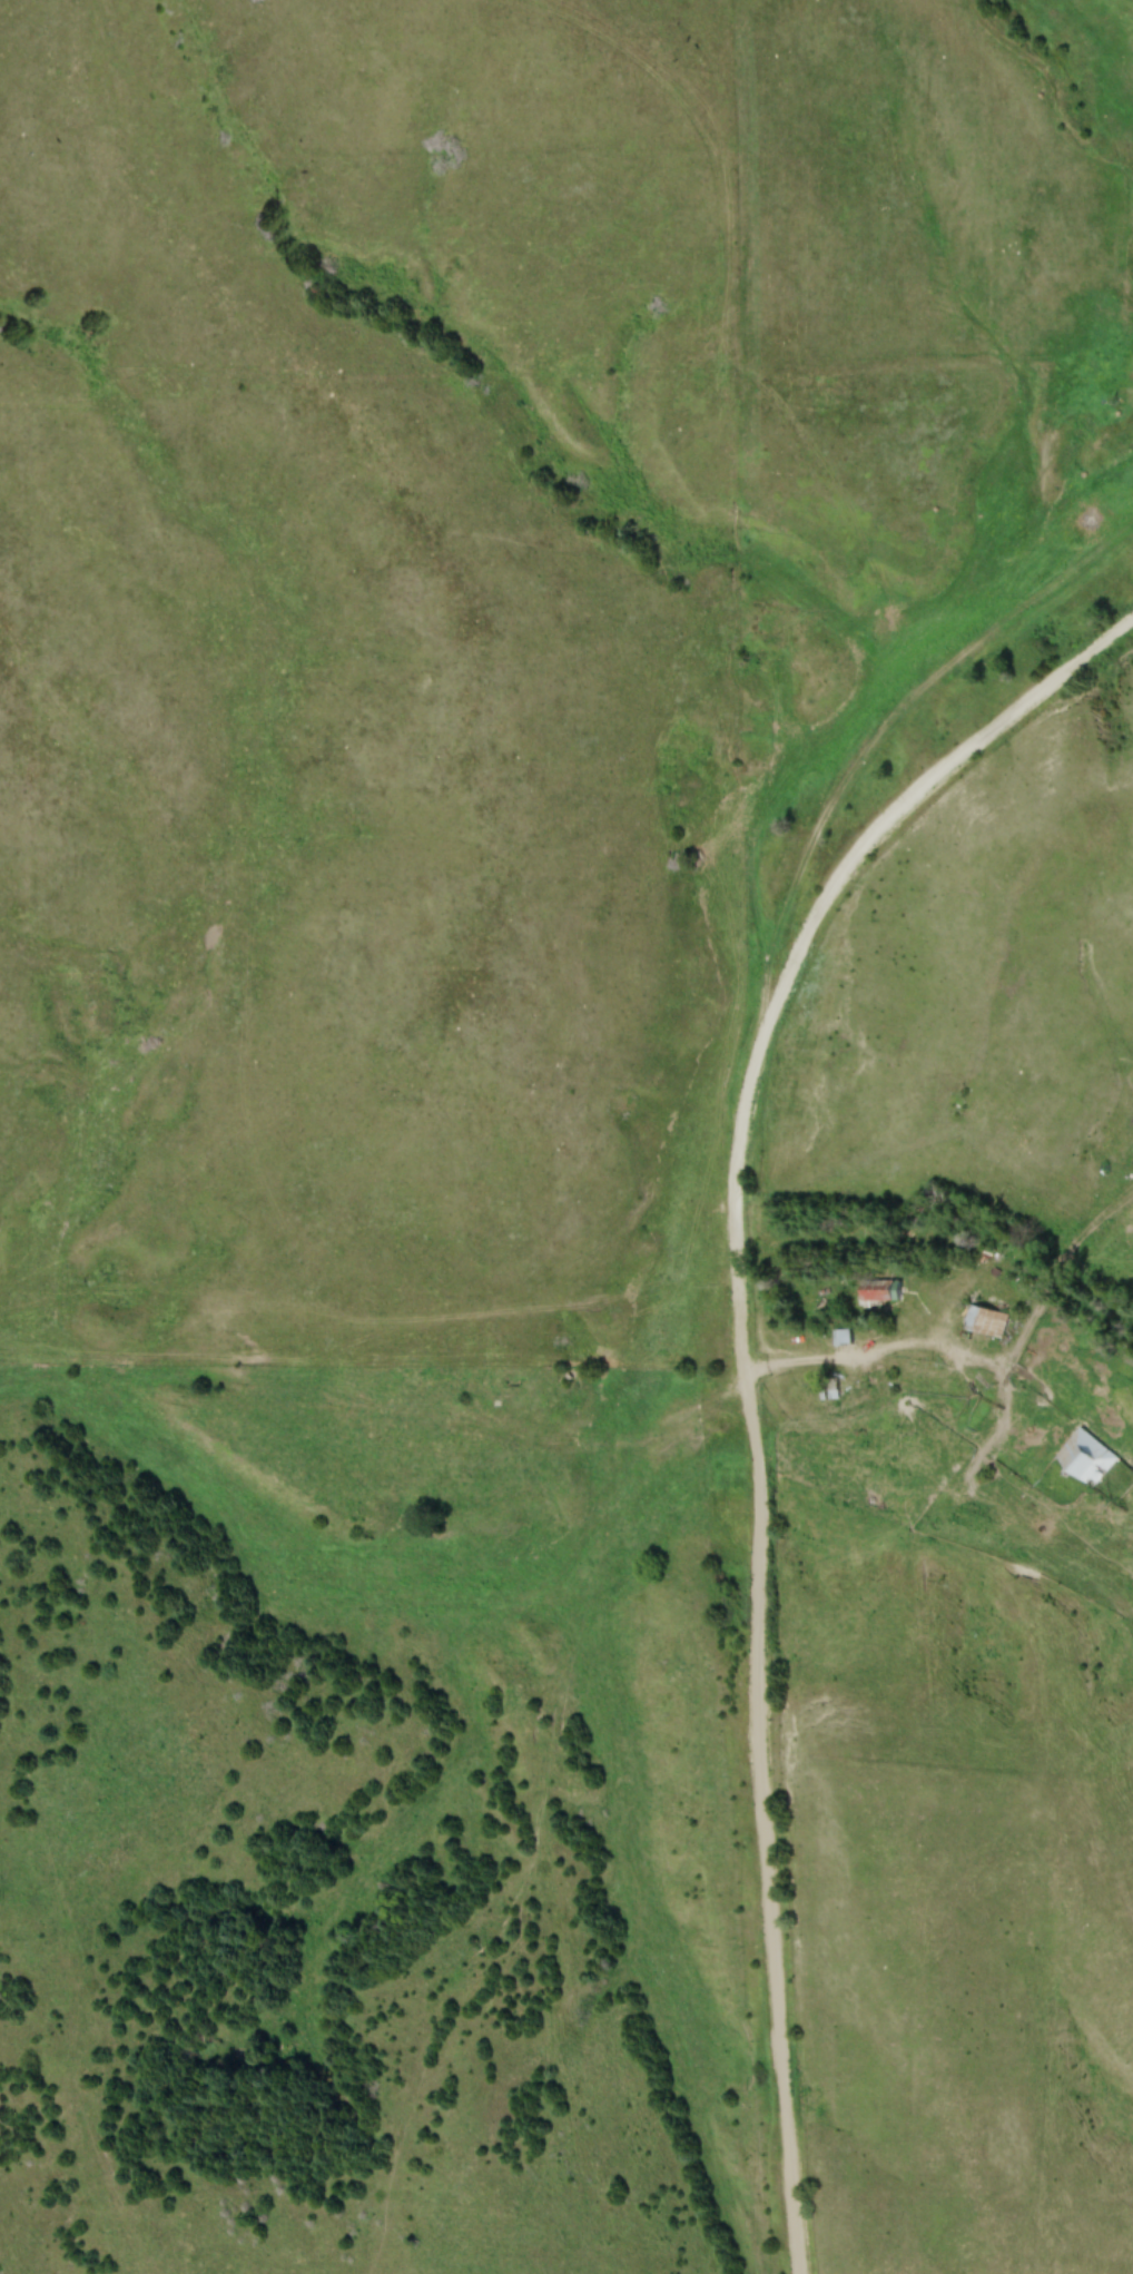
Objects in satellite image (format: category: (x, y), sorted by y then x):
building: (994, 552)
building: (879, 1296)
building: (988, 1321)
road: (745, 1368)
building: (1087, 1457)

